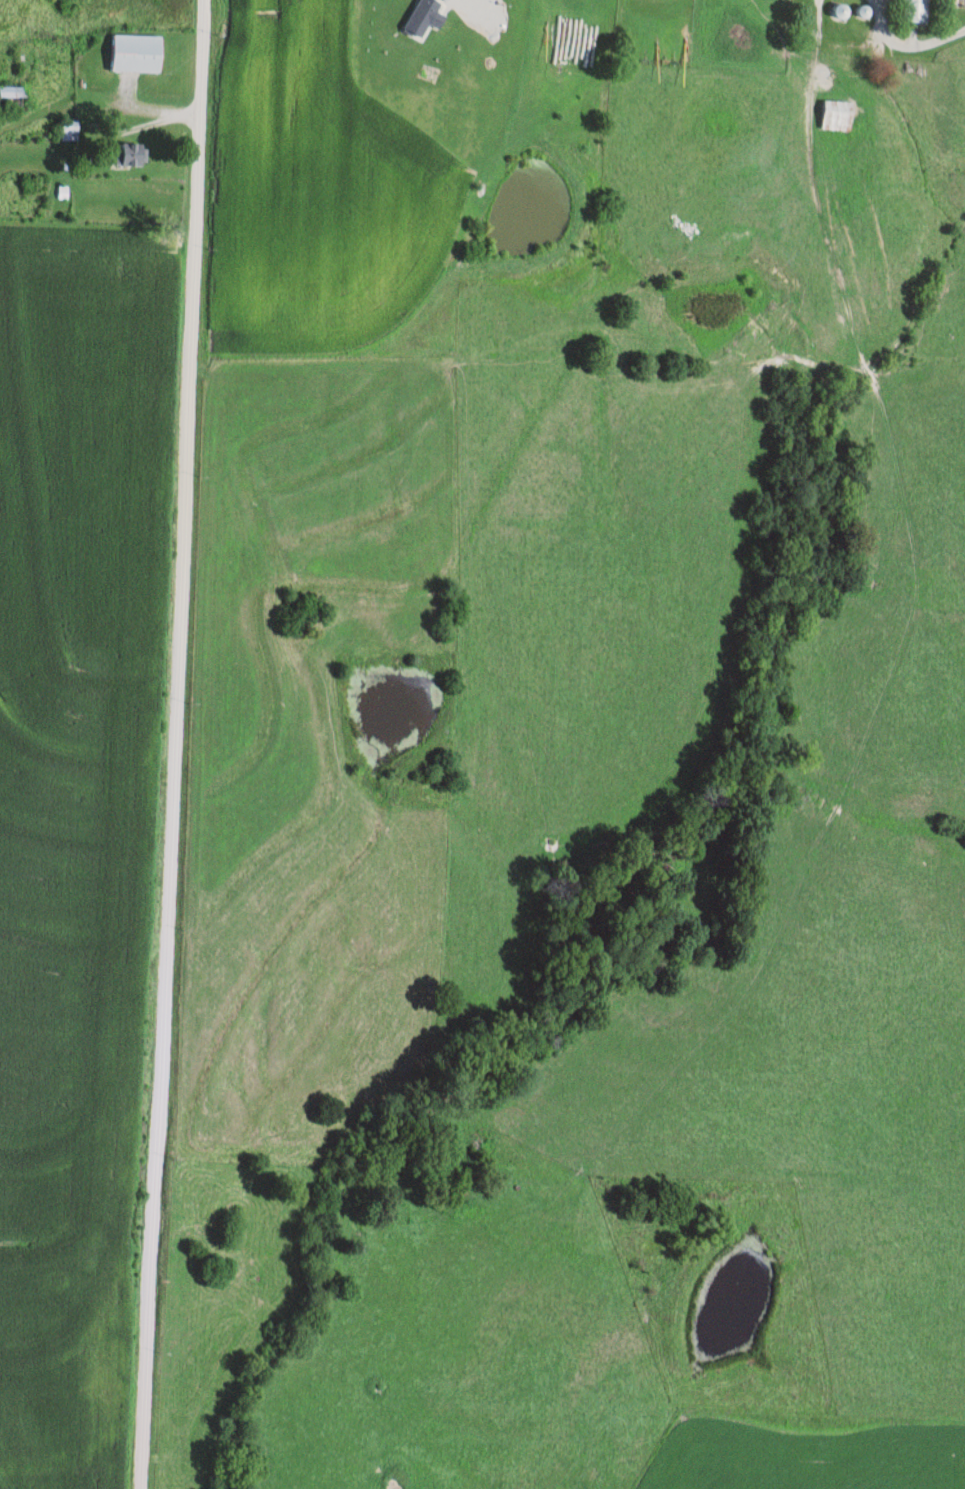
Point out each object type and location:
building: (910, 11)
road: (912, 37)
building: (131, 53)
building: (8, 101)
building: (831, 116)
building: (66, 131)
building: (126, 155)
road: (98, 222)
road: (177, 744)

